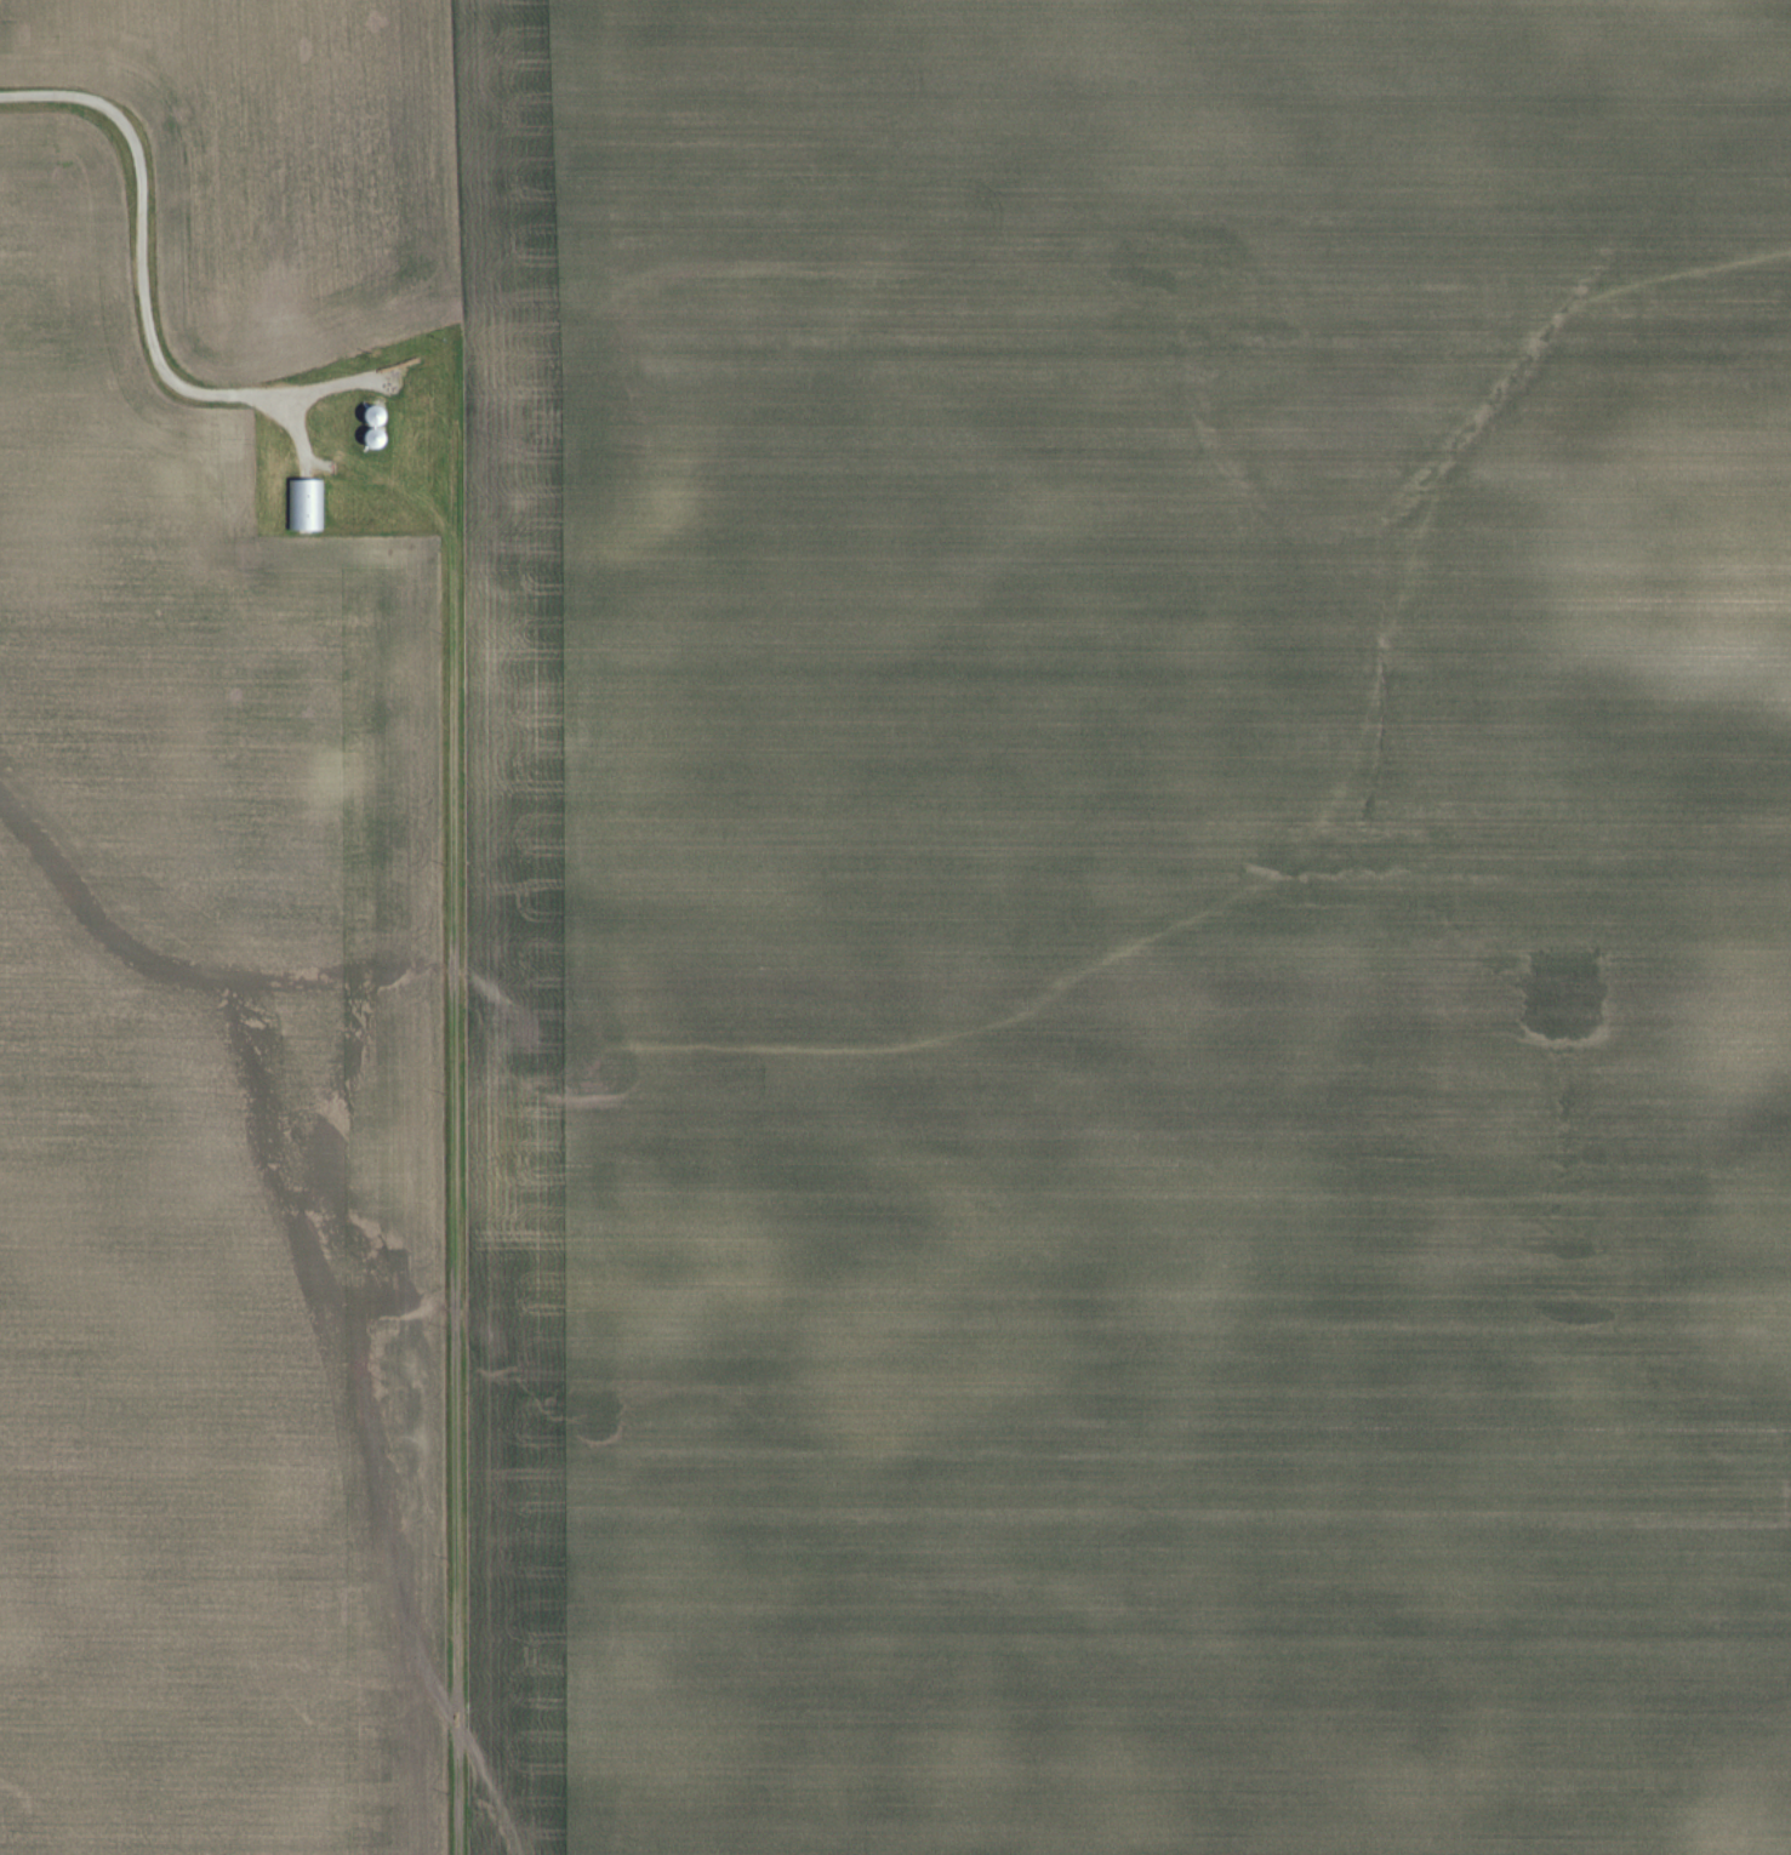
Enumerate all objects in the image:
road: (142, 245)
road: (330, 386)
building: (373, 416)
silo: (373, 416)
building: (373, 439)
silo: (373, 439)
road: (301, 441)
road: (318, 463)
road: (400, 480)
building: (304, 503)
crop: (207, 1107)
road: (456, 1215)

